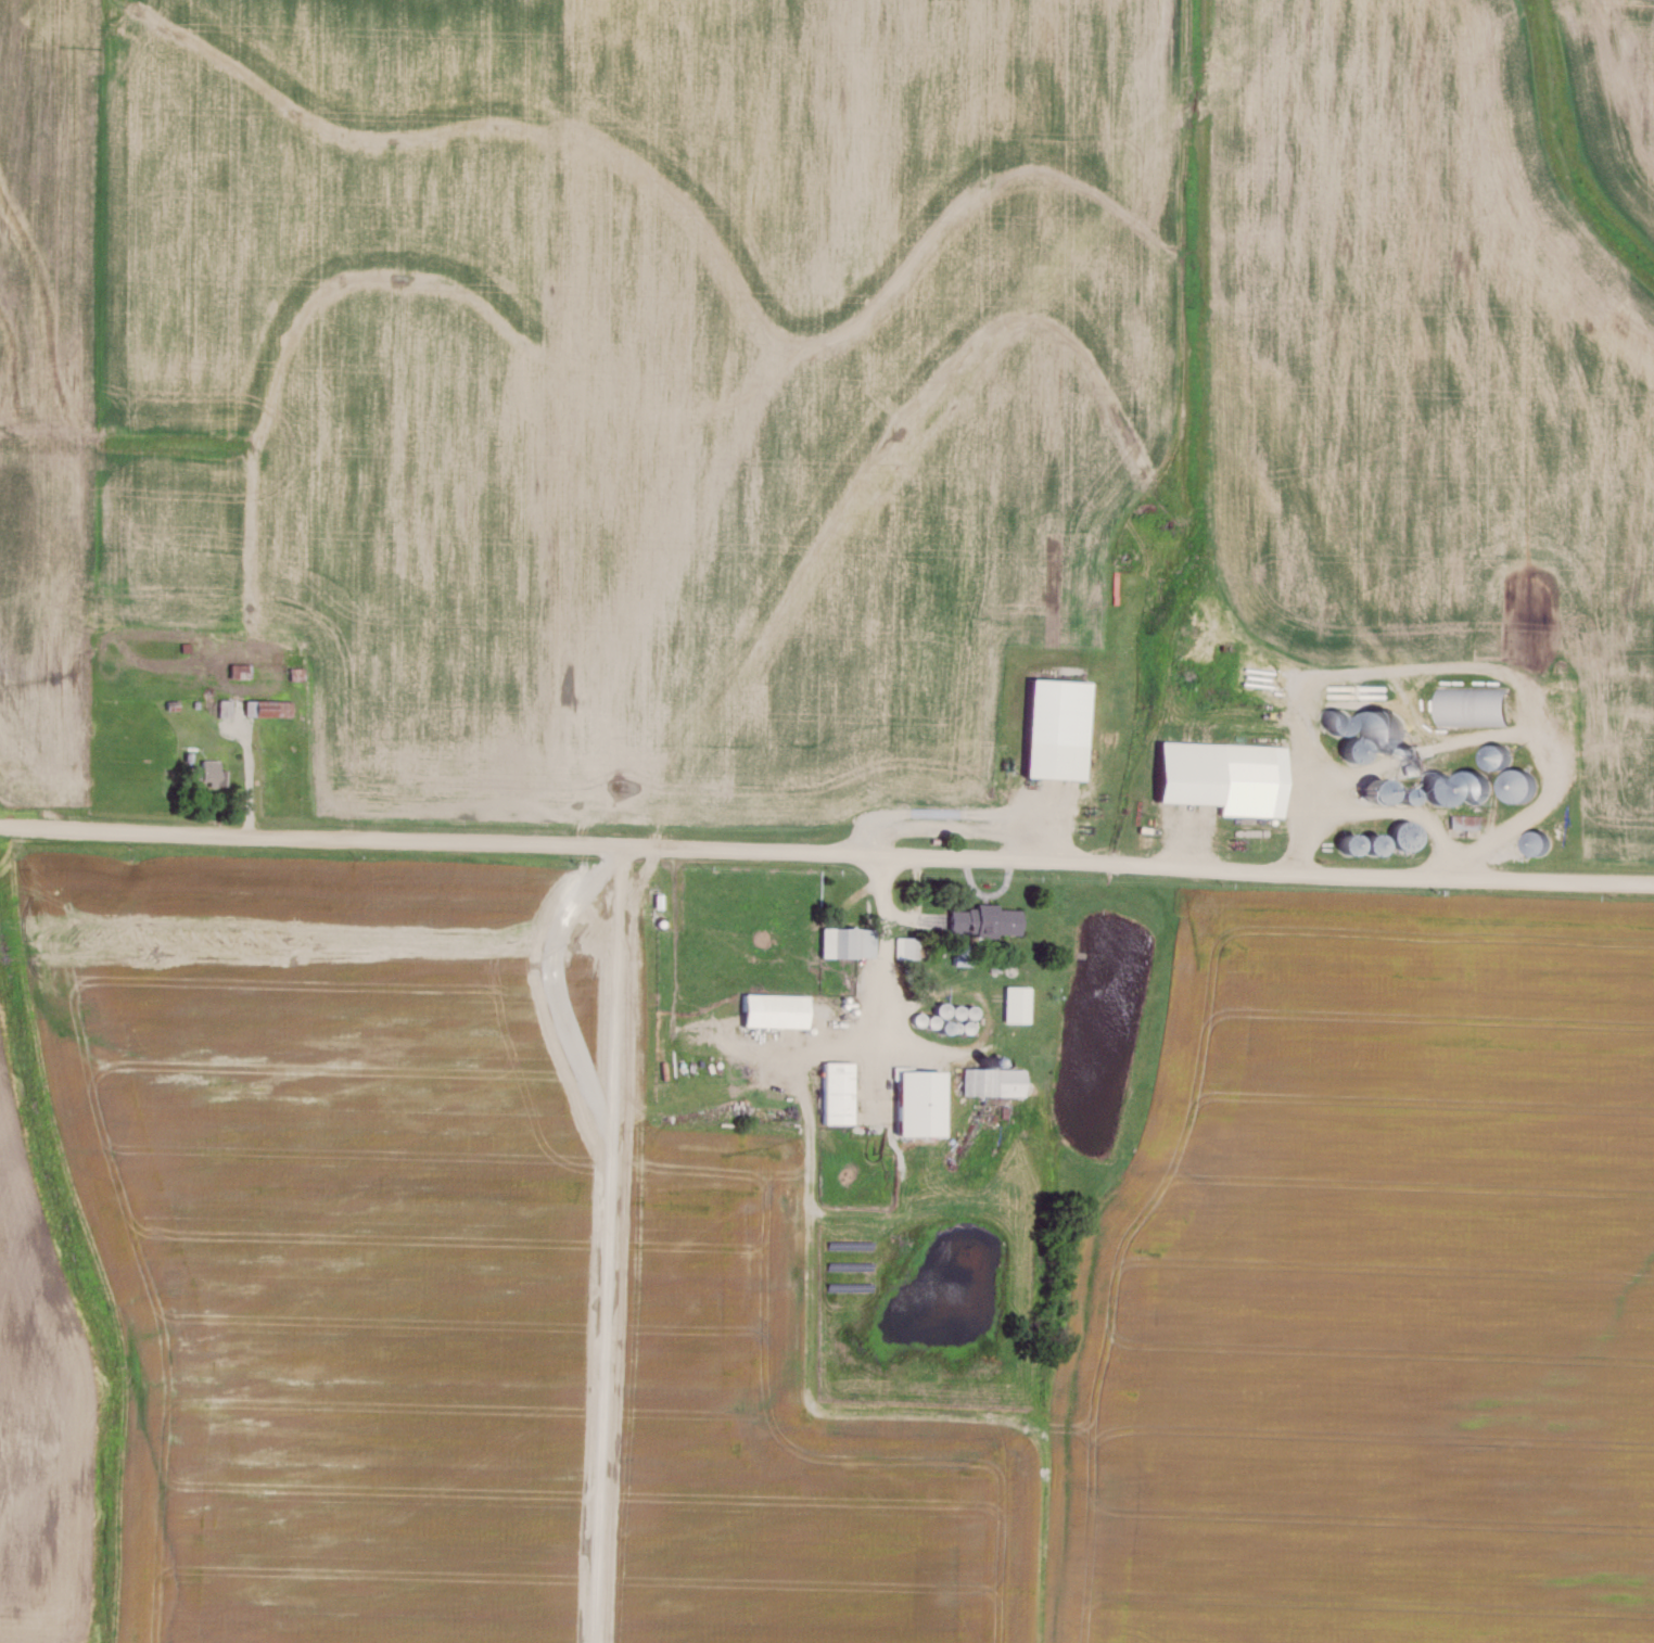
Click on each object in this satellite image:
building: (1056, 728)
building: (1387, 731)
building: (209, 770)
road: (249, 770)
building: (1223, 775)
road: (1370, 799)
building: (1465, 820)
road: (827, 851)
building: (983, 918)
building: (847, 941)
building: (902, 946)
building: (914, 947)
building: (962, 953)
road: (873, 989)
building: (1015, 1003)
building: (774, 1009)
building: (993, 1080)
building: (837, 1091)
building: (918, 1101)

